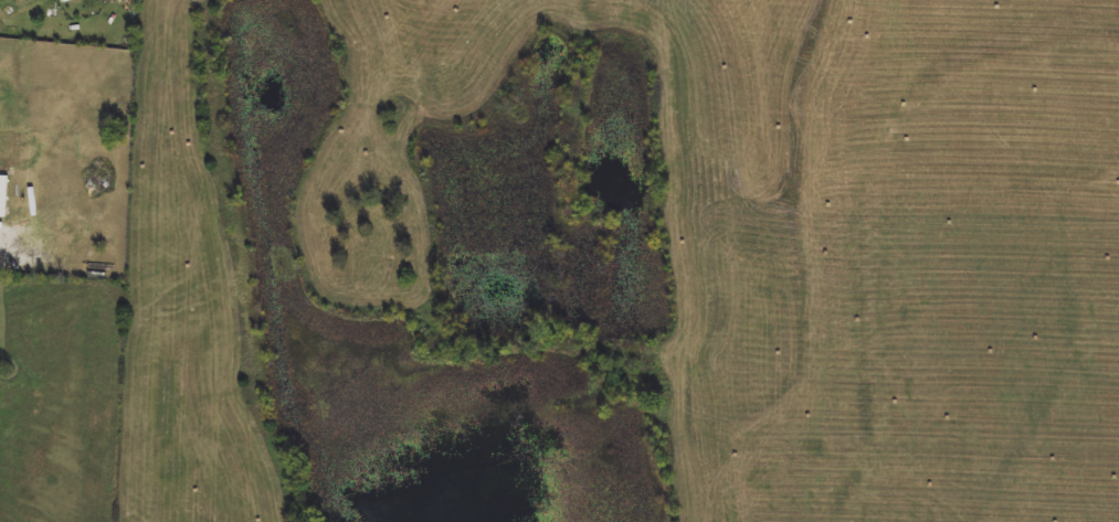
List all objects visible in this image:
building: (3, 195)

